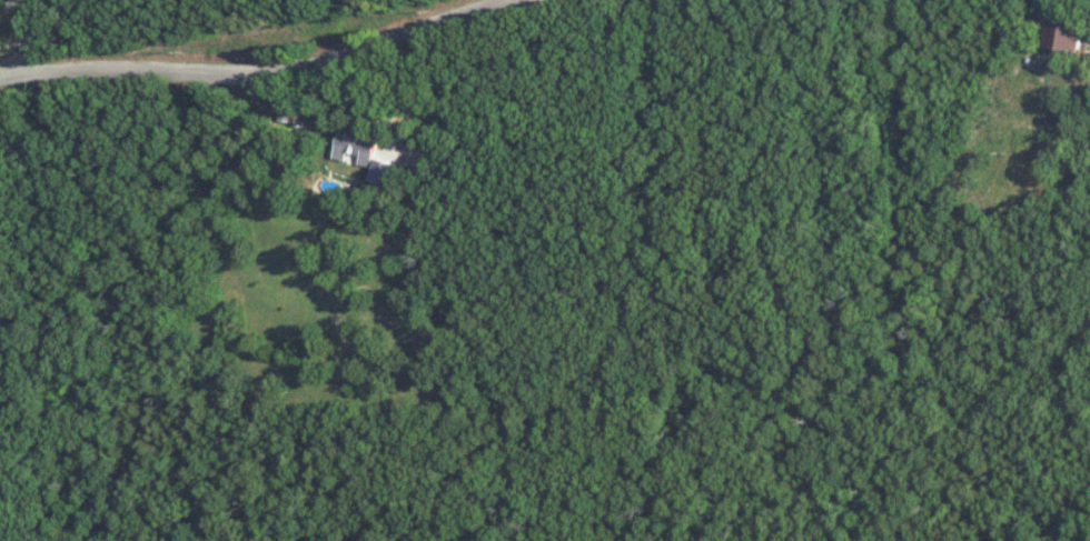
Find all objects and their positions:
road: (261, 71)
building: (367, 154)

